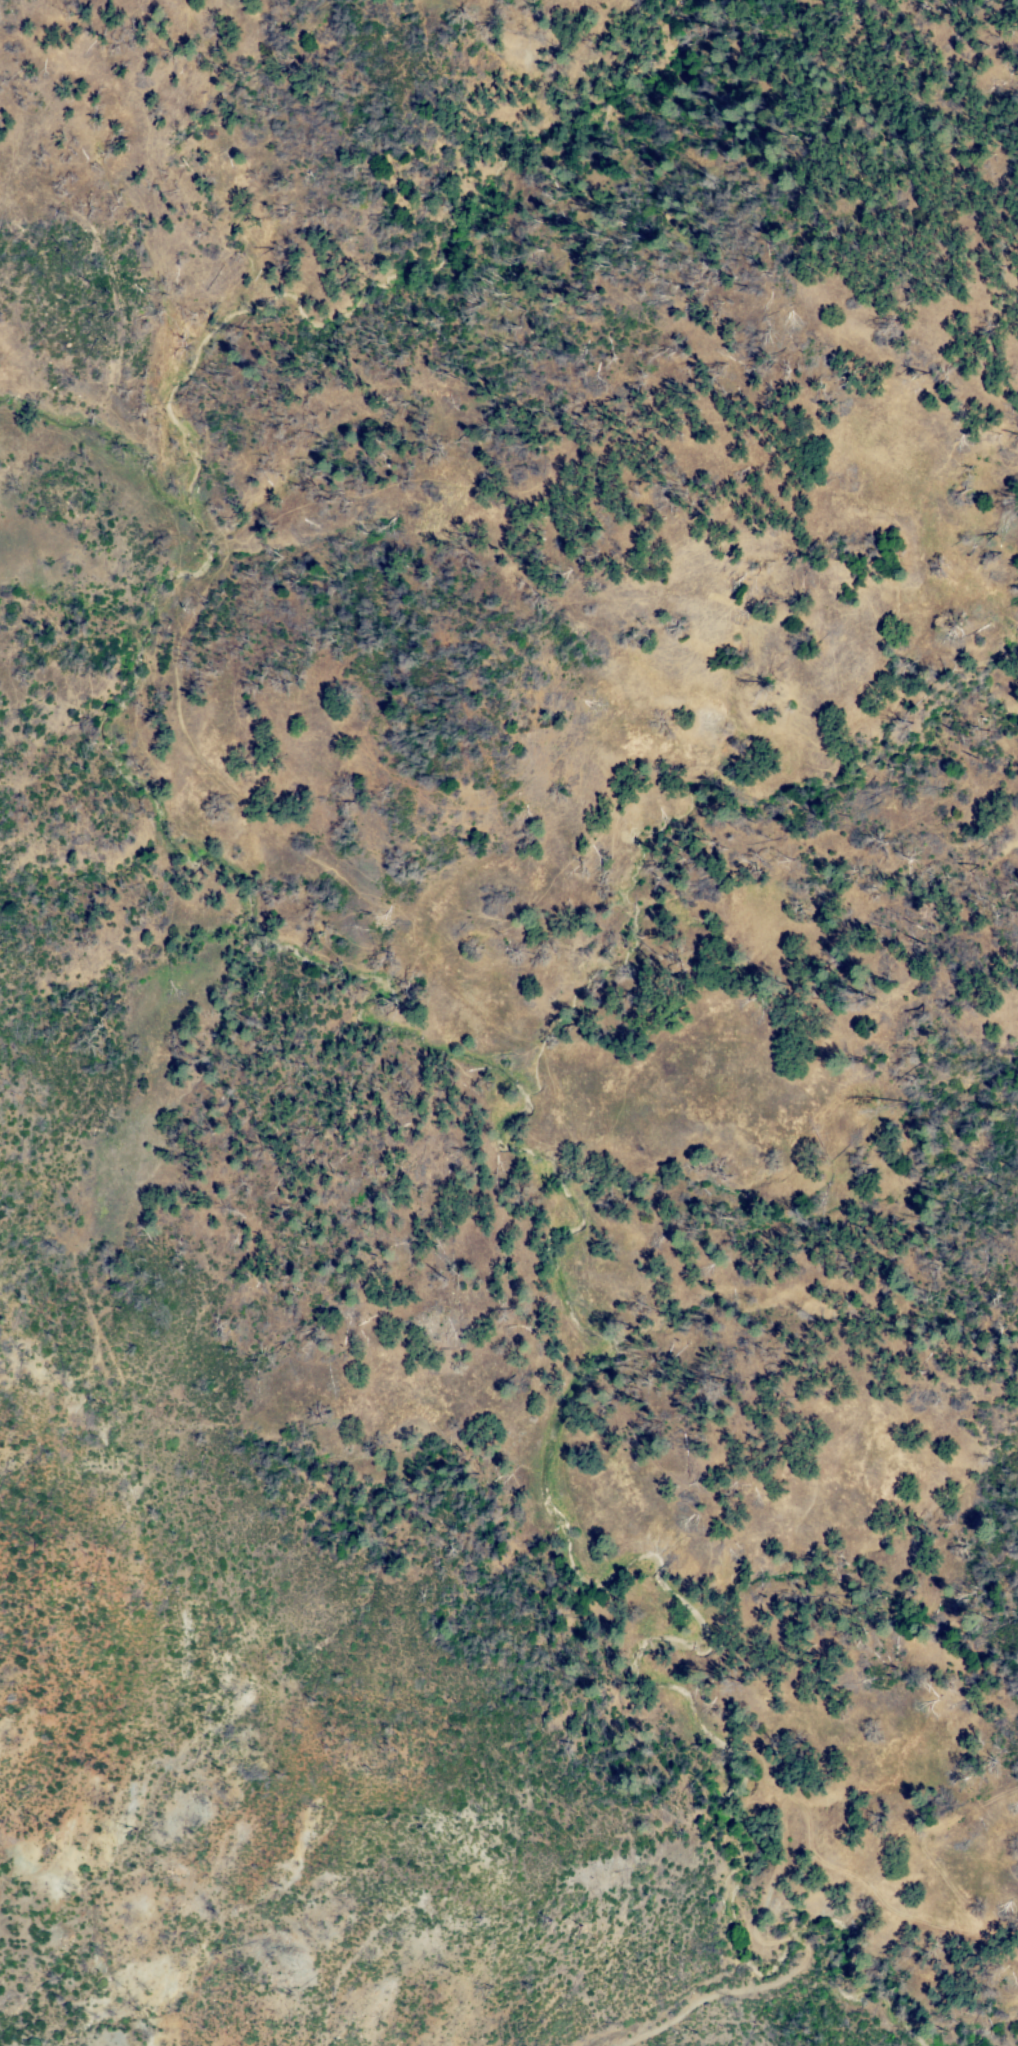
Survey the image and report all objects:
road: (725, 1993)

